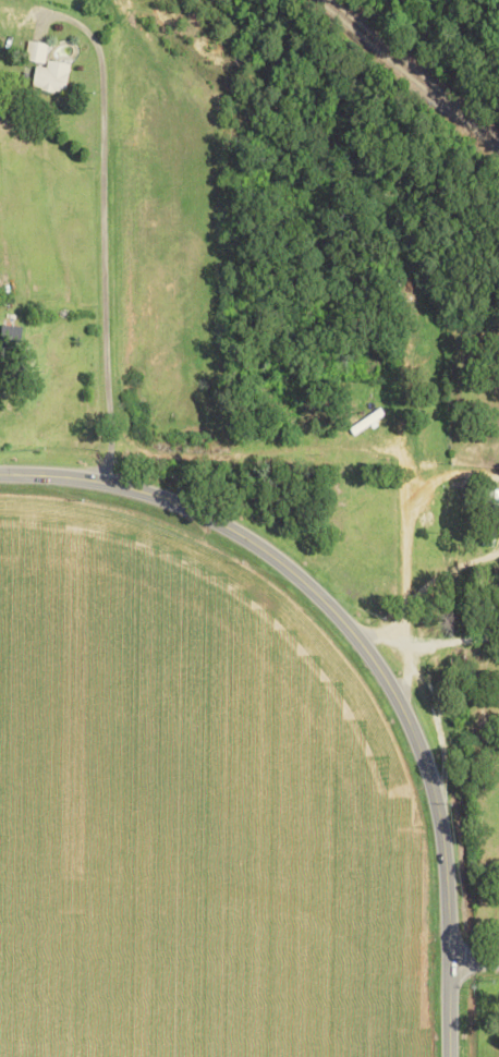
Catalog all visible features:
building: (35, 51)
railway: (414, 71)
building: (51, 76)
road: (97, 227)
building: (4, 367)
road: (400, 416)
road: (381, 634)
road: (453, 642)
road: (368, 648)
road: (476, 963)

